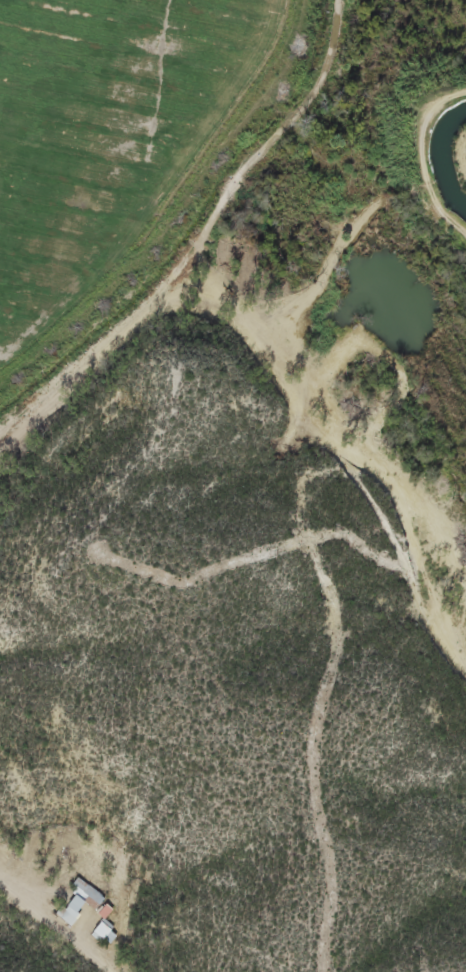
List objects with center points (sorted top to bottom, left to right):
building: (78, 899)
road: (58, 927)
building: (101, 930)

